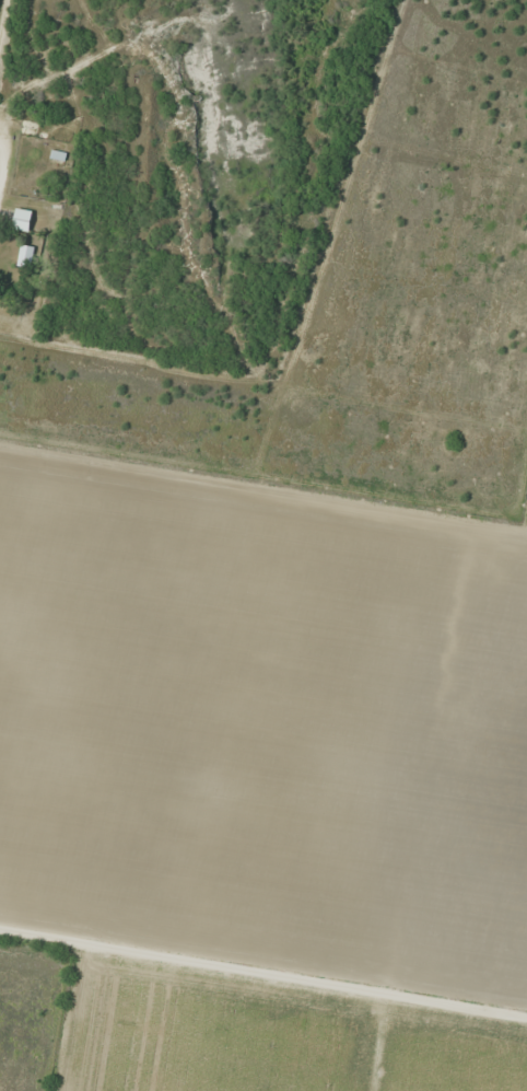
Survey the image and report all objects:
building: (22, 220)
road: (263, 986)

